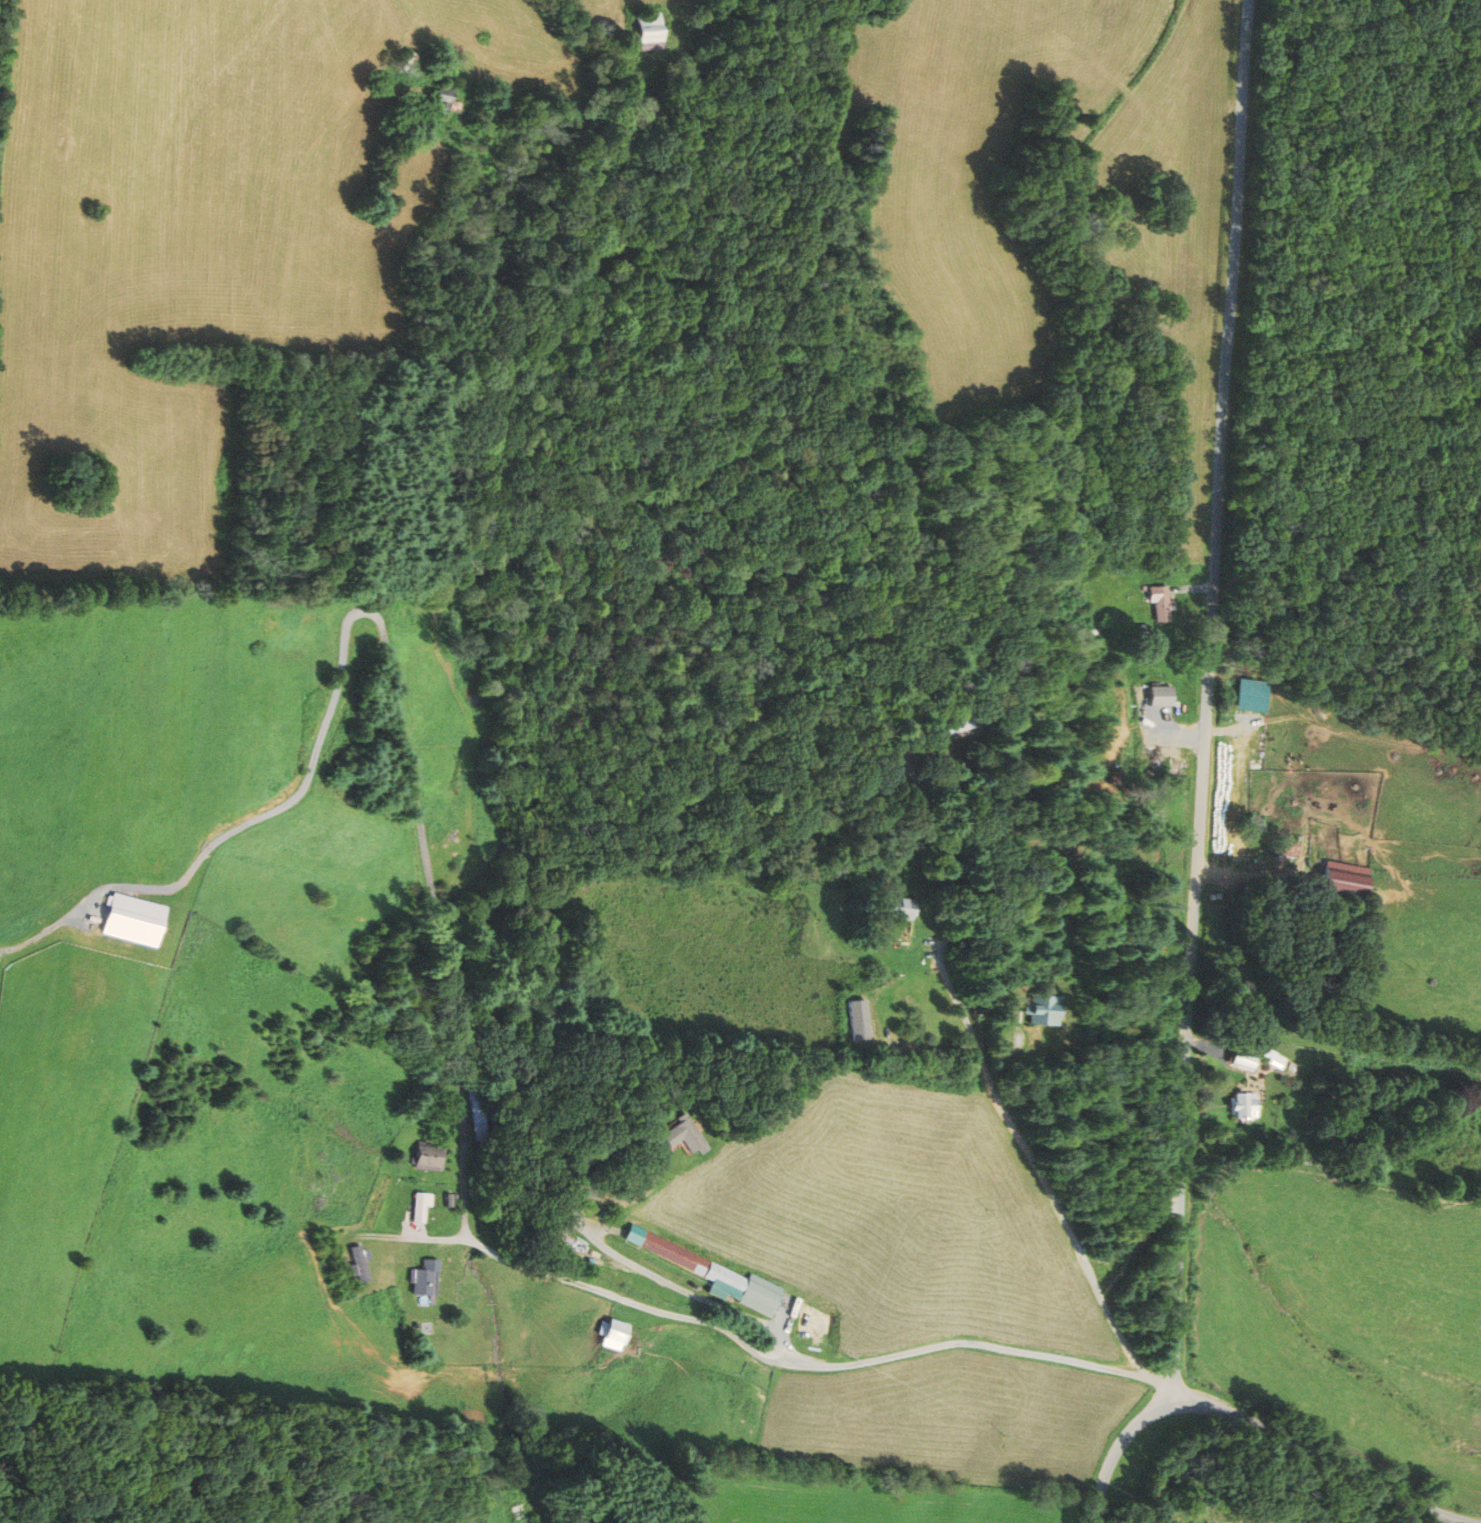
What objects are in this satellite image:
building: (651, 30)
building: (445, 102)
building: (1165, 603)
road: (385, 645)
building: (1165, 696)
road: (1207, 701)
building: (962, 726)
building: (1255, 753)
building: (1235, 788)
building: (1286, 847)
building: (1347, 879)
building: (903, 909)
building: (864, 1020)
building: (1243, 1061)
building: (1242, 1106)
road: (1392, 1128)
building: (692, 1133)
building: (430, 1157)
road: (1242, 1158)
road: (1391, 1183)
road: (1057, 1211)
road: (410, 1237)
building: (359, 1264)
building: (711, 1272)
building: (430, 1279)
building: (612, 1333)
road: (807, 1365)
road: (1256, 1425)

